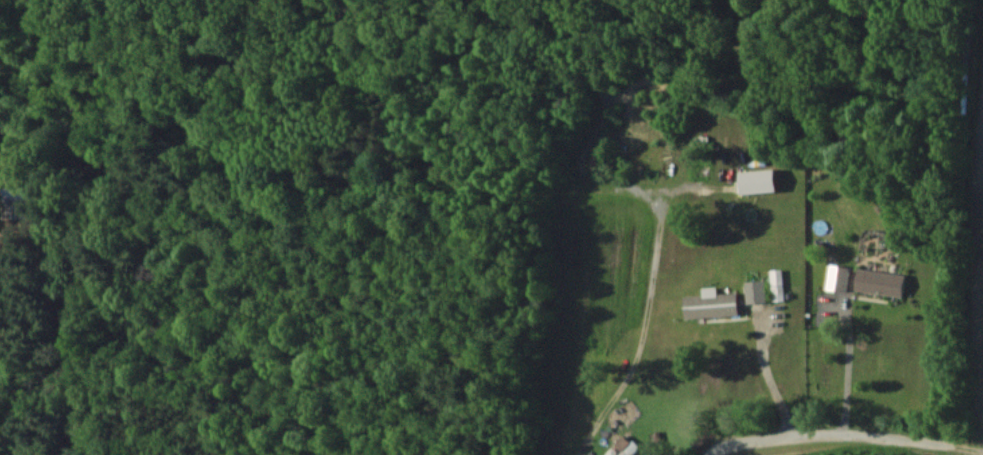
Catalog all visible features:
building: (759, 180)
building: (838, 277)
building: (881, 281)
building: (777, 284)
building: (756, 291)
building: (712, 303)
road: (83, 312)
road: (642, 332)
road: (847, 361)
road: (771, 380)
road: (806, 437)
building: (627, 446)

